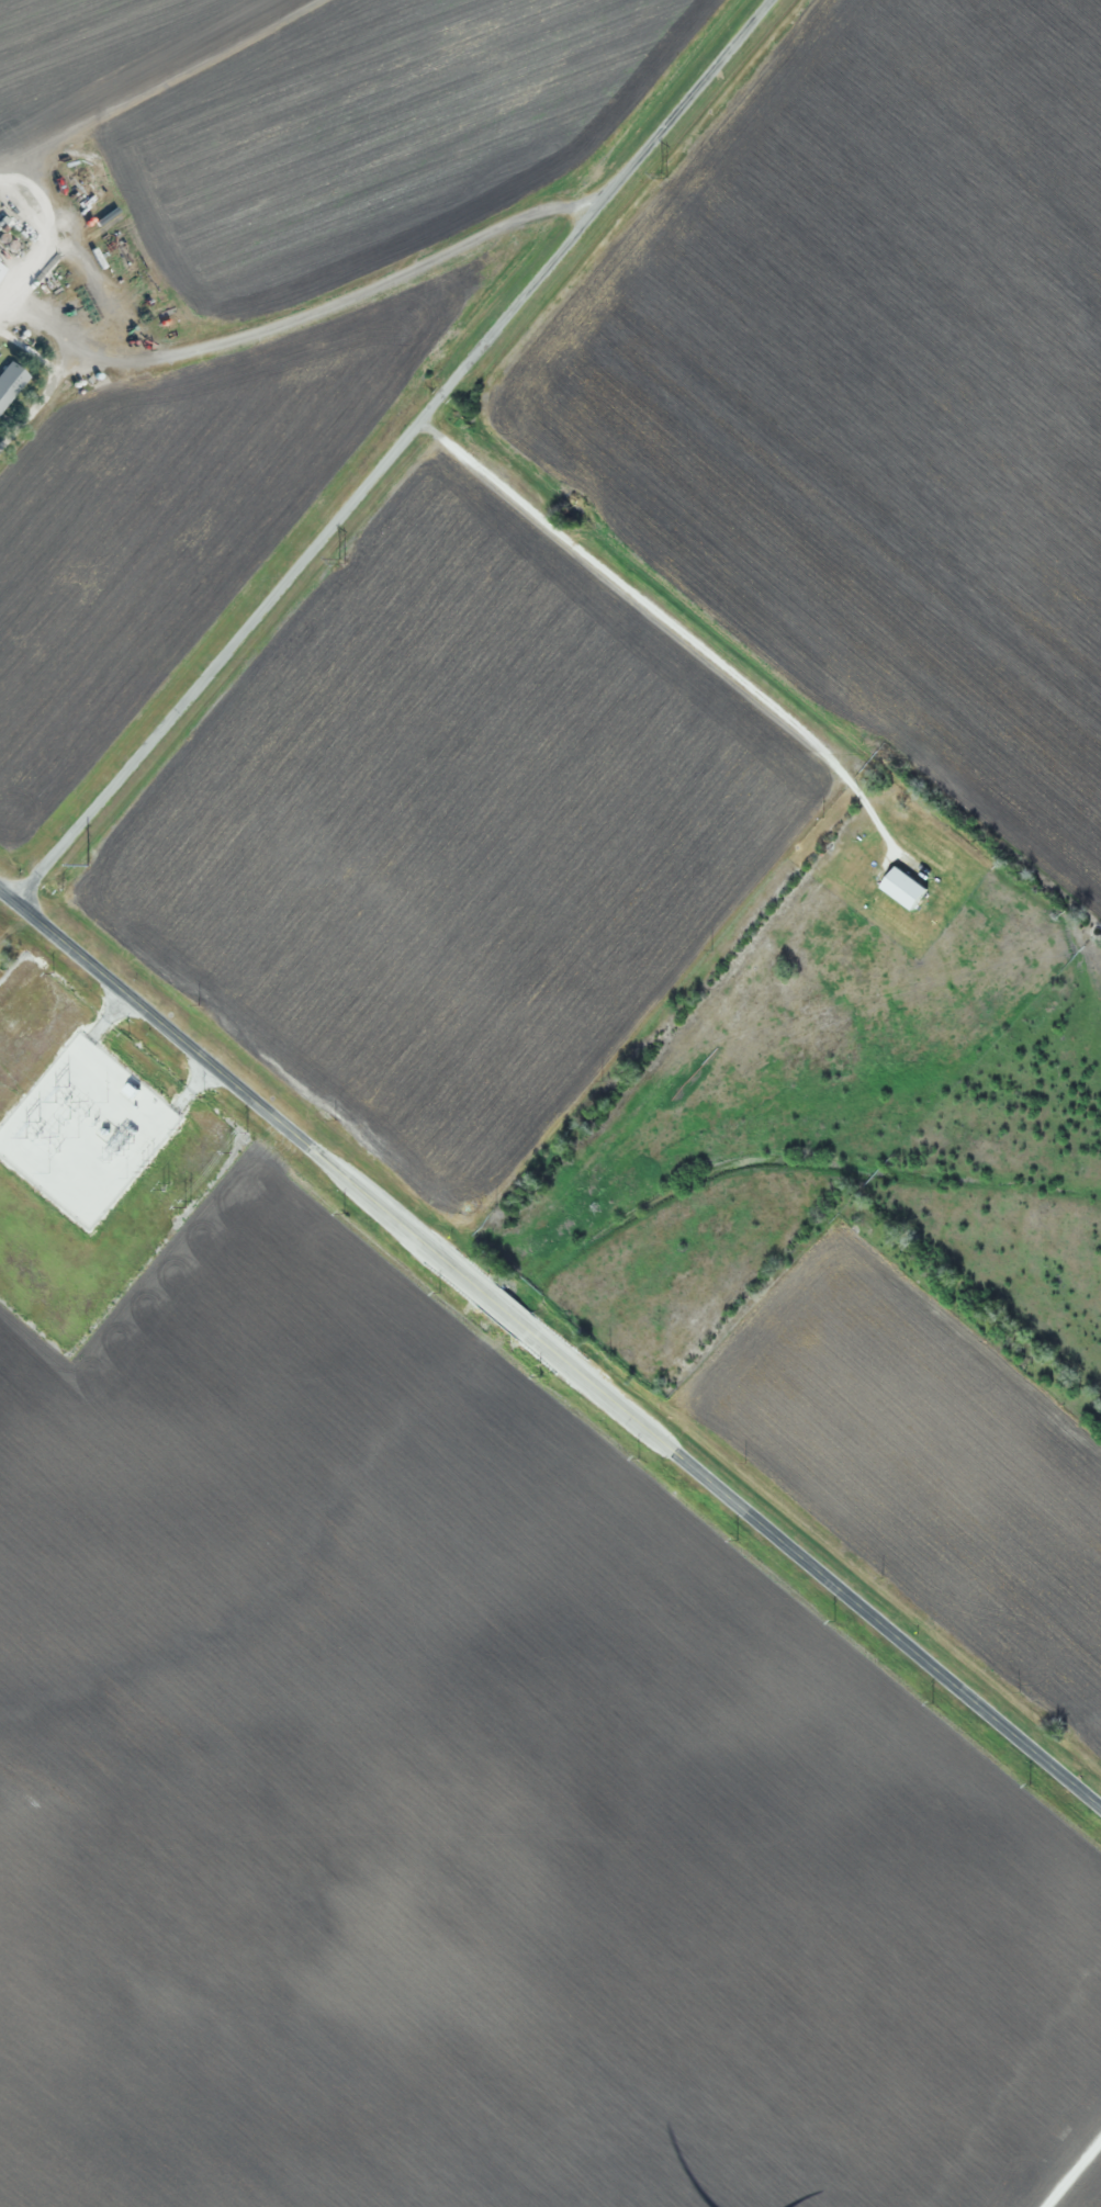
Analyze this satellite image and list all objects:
power tower: (664, 176)
road: (36, 263)
building: (1, 269)
road: (346, 299)
road: (94, 301)
road: (48, 311)
building: (9, 381)
road: (391, 451)
power tower: (341, 561)
power tower: (88, 866)
power substation: (85, 1130)
road: (550, 1348)

